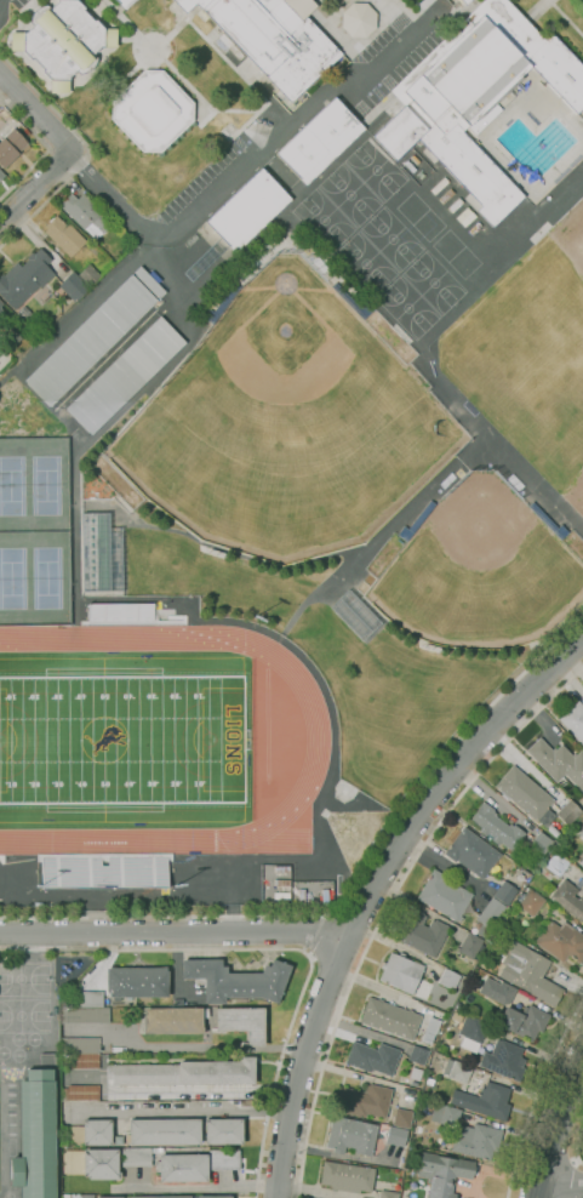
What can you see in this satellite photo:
building: (458, 1)
building: (463, 1)
building: (125, 2)
building: (299, 7)
road: (539, 10)
road: (567, 15)
building: (358, 21)
building: (269, 39)
building: (62, 41)
road: (156, 47)
road: (159, 56)
building: (475, 97)
building: (152, 110)
road: (241, 110)
road: (36, 114)
building: (319, 141)
building: (10, 147)
road: (47, 149)
road: (84, 149)
building: (415, 159)
road: (253, 160)
building: (410, 166)
park: (375, 170)
road: (278, 171)
building: (1, 176)
building: (439, 186)
road: (36, 188)
park: (349, 194)
building: (445, 195)
building: (455, 204)
building: (247, 210)
building: (85, 215)
park: (421, 217)
building: (465, 217)
park: (324, 218)
building: (64, 235)
park: (391, 239)
park: (457, 255)
park: (366, 263)
building: (88, 275)
building: (24, 279)
building: (149, 283)
park: (434, 283)
building: (73, 286)
building: (0, 303)
park: (408, 308)
building: (0, 310)
building: (25, 313)
park: (556, 319)
building: (90, 341)
building: (125, 376)
park: (527, 376)
park: (548, 421)
park: (286, 426)
park: (34, 484)
building: (92, 520)
building: (102, 572)
park: (34, 576)
park: (481, 576)
building: (120, 612)
building: (573, 720)
track: (265, 723)
track: (316, 735)
park: (121, 740)
park: (121, 740)
building: (558, 763)
building: (525, 795)
building: (568, 812)
building: (496, 826)
building: (581, 832)
building: (542, 843)
building: (471, 852)
building: (579, 860)
building: (556, 865)
building: (281, 868)
building: (103, 872)
building: (282, 882)
road: (373, 888)
road: (351, 891)
building: (504, 894)
building: (281, 895)
building: (444, 895)
building: (302, 896)
building: (325, 896)
building: (568, 900)
building: (531, 902)
road: (388, 905)
building: (488, 917)
road: (175, 930)
building: (527, 931)
road: (311, 932)
building: (421, 932)
building: (561, 941)
building: (469, 945)
road: (280, 949)
building: (400, 971)
building: (528, 972)
park: (24, 979)
building: (448, 979)
building: (236, 980)
building: (136, 982)
building: (497, 991)
building: (84, 998)
building: (84, 1014)
park: (24, 1016)
building: (389, 1017)
building: (175, 1020)
building: (524, 1021)
building: (242, 1022)
building: (430, 1029)
building: (471, 1033)
building: (80, 1044)
road: (184, 1046)
building: (417, 1054)
building: (373, 1057)
building: (82, 1060)
building: (504, 1060)
building: (457, 1069)
building: (184, 1073)
building: (415, 1073)
building: (80, 1093)
road: (536, 1096)
building: (367, 1101)
building: (490, 1101)
building: (445, 1116)
building: (402, 1118)
road: (555, 1129)
building: (223, 1130)
building: (164, 1131)
building: (86, 1133)
building: (396, 1134)
building: (350, 1135)
building: (34, 1136)
building: (478, 1141)
road: (577, 1148)
road: (548, 1154)
building: (138, 1156)
building: (223, 1158)
building: (101, 1163)
building: (183, 1166)
building: (442, 1173)
building: (348, 1176)
road: (572, 1177)
road: (201, 1187)
road: (561, 1188)
building: (388, 1194)
building: (78, 1196)
building: (109, 1197)
building: (126, 1197)
building: (161, 1197)
building: (194, 1197)
building: (215, 1197)

